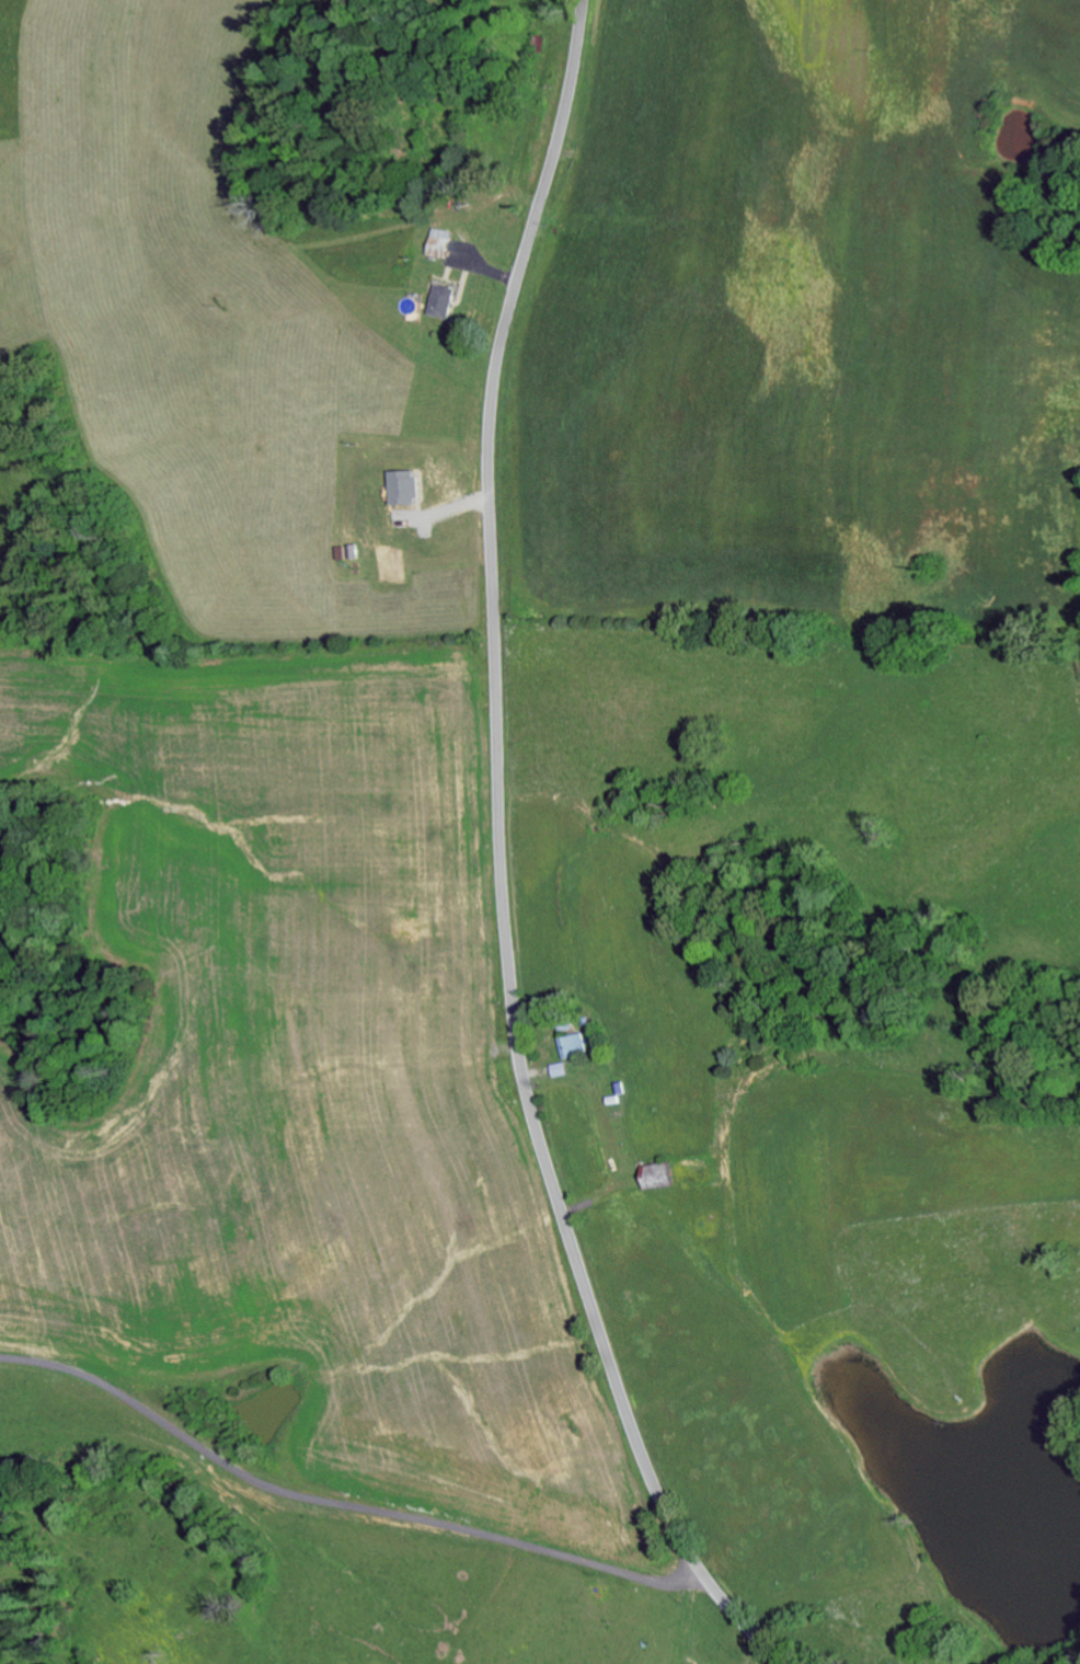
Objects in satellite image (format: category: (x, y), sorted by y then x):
building: (439, 242)
building: (445, 300)
building: (405, 487)
road: (504, 860)
building: (575, 1045)
building: (561, 1069)
building: (659, 1175)
road: (343, 1506)

